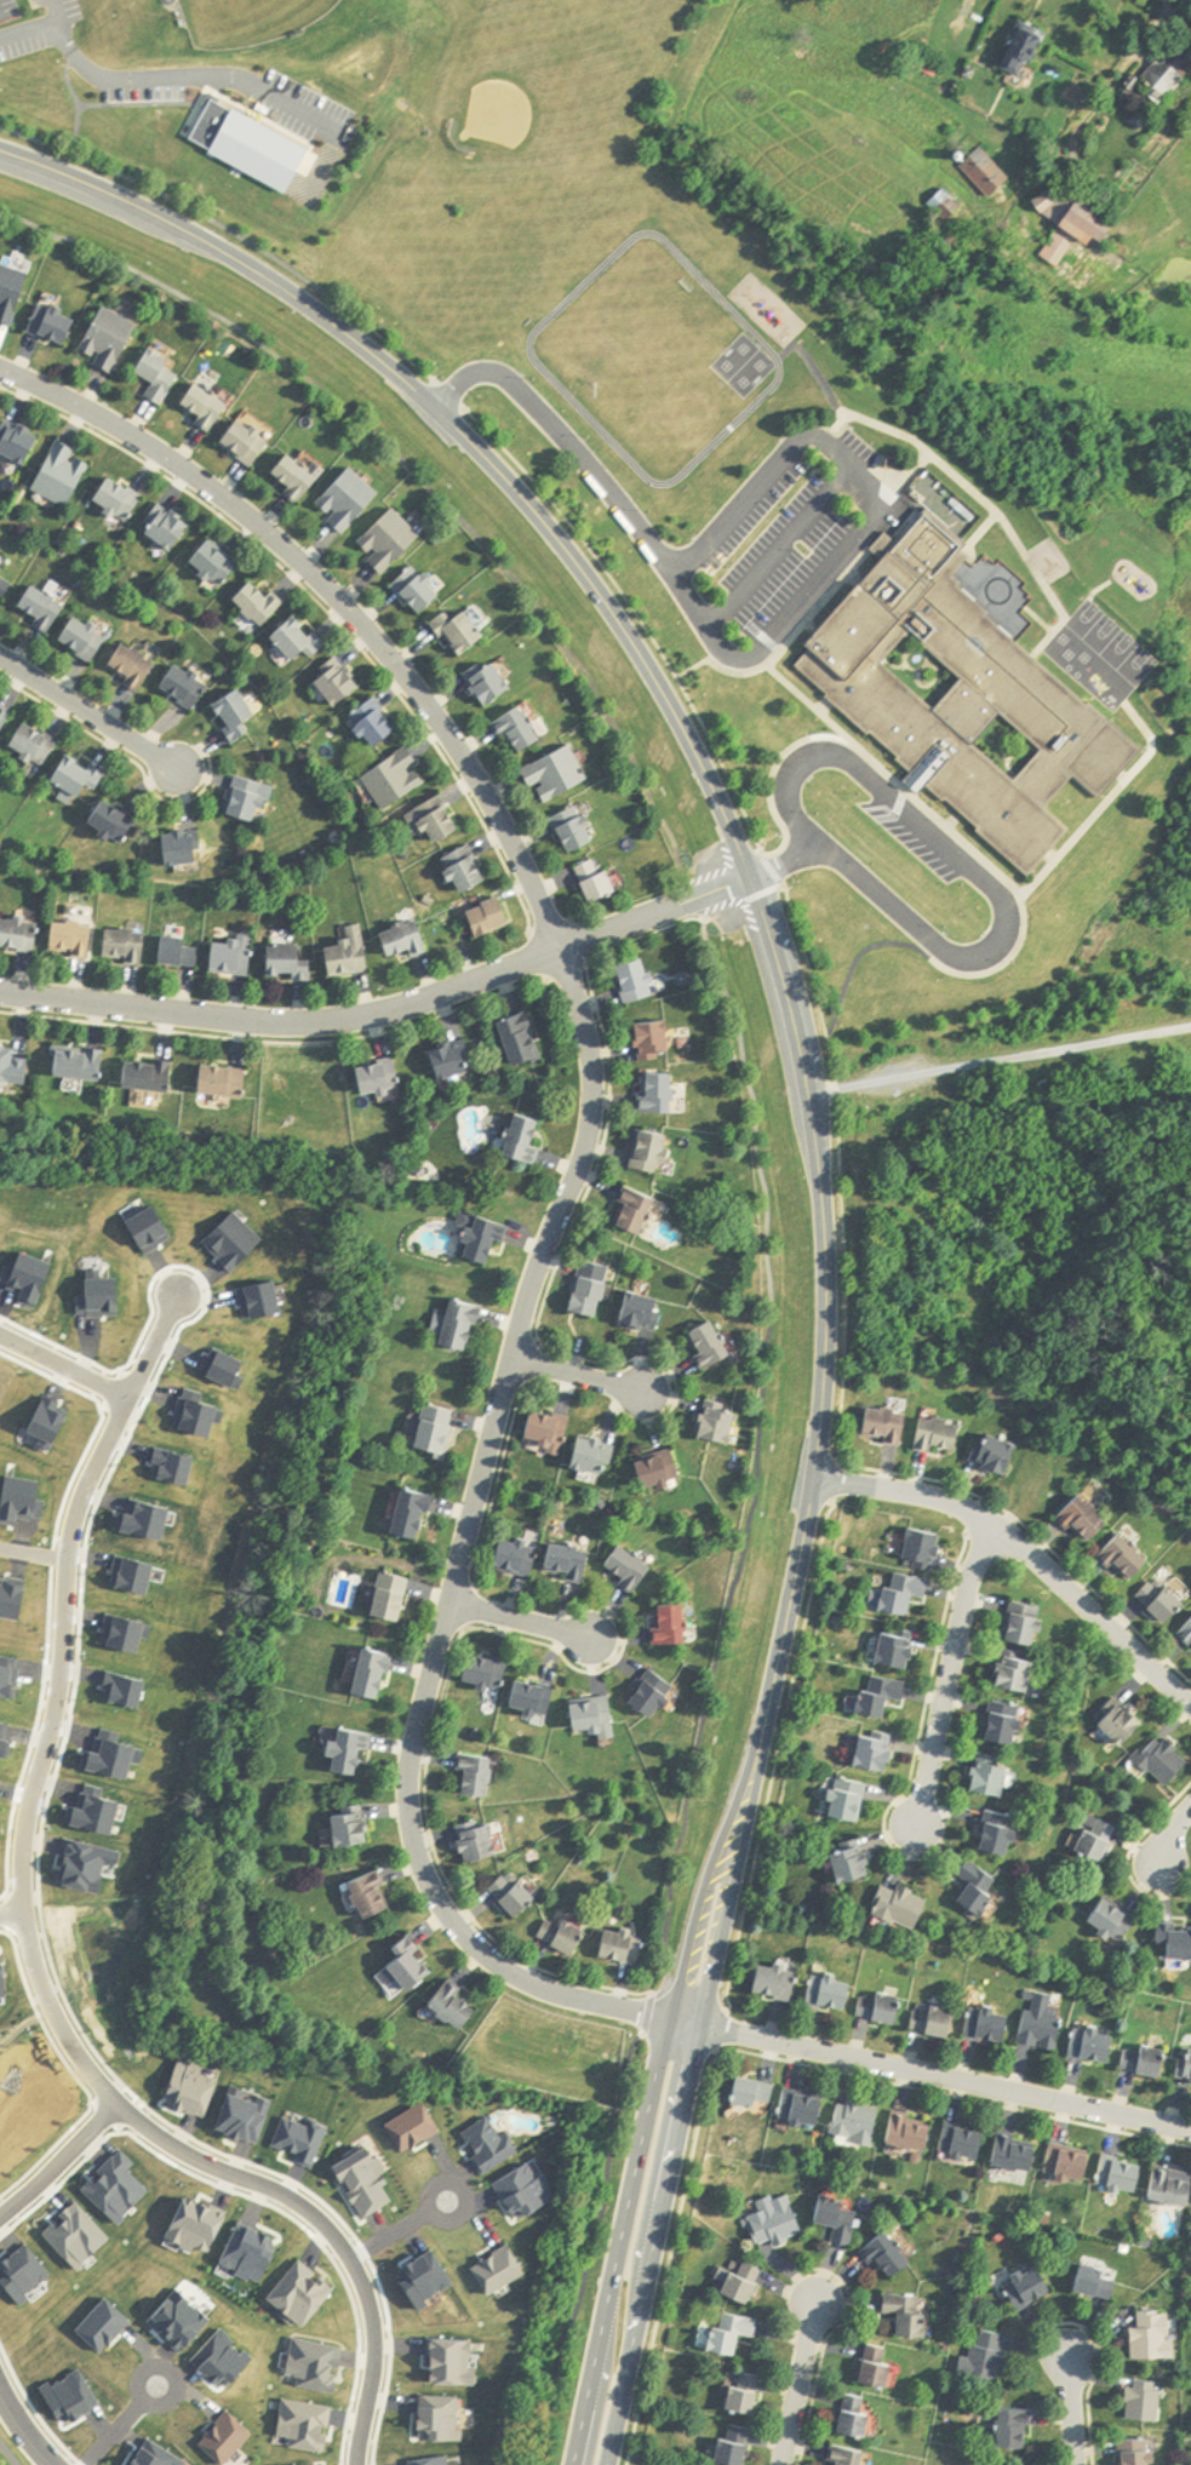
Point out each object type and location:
road: (1185, 4)
park: (648, 7)
park: (257, 19)
road: (44, 29)
building: (1018, 46)
building: (1025, 58)
building: (923, 61)
building: (1166, 70)
road: (184, 79)
building: (1129, 81)
road: (1110, 88)
park: (188, 92)
park: (502, 114)
building: (1136, 117)
crop: (823, 128)
building: (954, 155)
silo: (954, 155)
building: (981, 171)
crop: (1161, 216)
building: (1065, 220)
park: (411, 266)
building: (13, 293)
building: (58, 322)
building: (109, 346)
track: (655, 359)
road: (818, 369)
building: (162, 374)
park: (639, 383)
building: (211, 407)
building: (21, 441)
building: (250, 441)
road: (779, 468)
road: (921, 468)
building: (65, 474)
road: (418, 474)
road: (894, 475)
building: (302, 477)
road: (981, 491)
building: (122, 498)
building: (347, 505)
building: (172, 526)
road: (987, 533)
building: (389, 546)
road: (783, 549)
parking lot: (780, 551)
building: (221, 562)
road: (858, 579)
building: (424, 589)
road: (1089, 592)
building: (264, 603)
road: (325, 606)
building: (46, 608)
road: (641, 615)
road: (1050, 621)
road: (815, 627)
building: (462, 635)
building: (87, 638)
building: (304, 638)
road: (773, 642)
road: (788, 644)
building: (137, 666)
building: (345, 682)
building: (494, 682)
building: (189, 687)
building: (969, 696)
road: (828, 709)
road: (86, 712)
building: (241, 716)
building: (5, 722)
building: (379, 723)
building: (525, 728)
building: (38, 744)
road: (131, 758)
road: (777, 772)
building: (561, 774)
building: (82, 775)
building: (400, 779)
building: (253, 799)
road: (901, 799)
building: (441, 819)
building: (118, 821)
building: (579, 831)
parking lot: (915, 841)
building: (187, 848)
road: (994, 865)
building: (471, 870)
road: (777, 871)
building: (601, 882)
road: (995, 892)
road: (700, 902)
building: (494, 918)
building: (19, 934)
road: (648, 936)
building: (74, 940)
building: (408, 941)
building: (127, 946)
building: (183, 952)
building: (353, 955)
building: (235, 958)
building: (292, 962)
road: (591, 965)
road: (1004, 968)
building: (641, 981)
road: (384, 1009)
road: (831, 1037)
building: (526, 1041)
building: (659, 1042)
road: (280, 1044)
building: (454, 1062)
road: (997, 1062)
building: (85, 1064)
building: (15, 1066)
building: (156, 1076)
building: (382, 1080)
building: (230, 1083)
building: (663, 1094)
building: (528, 1139)
road: (809, 1140)
building: (657, 1152)
road: (574, 1169)
building: (641, 1211)
building: (489, 1239)
building: (594, 1297)
building: (647, 1312)
building: (465, 1326)
road: (153, 1346)
building: (714, 1346)
road: (63, 1368)
road: (573, 1375)
road: (110, 1386)
road: (99, 1421)
building: (721, 1424)
building: (891, 1427)
building: (441, 1429)
building: (554, 1432)
building: (941, 1435)
building: (998, 1455)
building: (596, 1456)
building: (664, 1472)
building: (418, 1515)
building: (1086, 1520)
building: (927, 1549)
road: (33, 1552)
road: (1019, 1552)
road: (51, 1555)
building: (519, 1558)
building: (1128, 1558)
building: (573, 1563)
building: (631, 1567)
road: (65, 1590)
building: (907, 1593)
building: (396, 1598)
building: (1167, 1600)
road: (516, 1620)
building: (1027, 1624)
building: (675, 1626)
building: (1189, 1633)
building: (900, 1651)
road: (78, 1669)
building: (489, 1672)
building: (1021, 1672)
building: (379, 1675)
road: (941, 1675)
building: (886, 1696)
building: (657, 1698)
building: (537, 1699)
building: (600, 1719)
building: (1009, 1724)
building: (1129, 1724)
road: (32, 1732)
building: (355, 1753)
building: (878, 1754)
building: (1168, 1760)
building: (482, 1777)
building: (995, 1778)
building: (851, 1806)
building: (356, 1829)
building: (1004, 1835)
road: (1173, 1836)
building: (1099, 1840)
building: (482, 1844)
building: (857, 1863)
building: (981, 1891)
building: (517, 1896)
building: (377, 1898)
building: (905, 1908)
road: (4, 1913)
road: (11, 1914)
building: (1117, 1920)
building: (566, 1937)
building: (1178, 1941)
building: (625, 1948)
building: (411, 1971)
building: (779, 1983)
building: (834, 1994)
building: (883, 2008)
building: (938, 2020)
building: (1044, 2023)
building: (991, 2025)
building: (1096, 2047)
building: (1150, 2062)
building: (1185, 2066)
road: (74, 2073)
road: (940, 2075)
building: (756, 2094)
building: (807, 2110)
road: (103, 2117)
building: (859, 2122)
building: (914, 2134)
building: (966, 2143)
road: (178, 2151)
building: (1019, 2155)
road: (59, 2161)
building: (1071, 2166)
building: (1123, 2177)
building: (1172, 2188)
road: (256, 2199)
building: (838, 2218)
building: (777, 2223)
road: (396, 2230)
road: (363, 2248)
building: (891, 2254)
building: (1100, 2281)
building: (744, 2285)
building: (1031, 2286)
building: (911, 2315)
building: (737, 2331)
building: (1156, 2335)
building: (989, 2356)
road: (389, 2362)
building: (882, 2364)
road: (791, 2384)
building: (746, 2394)
building: (1147, 2400)
road: (30, 2402)
road: (1064, 2410)
building: (860, 2417)
road: (119, 2425)
building: (1020, 2427)
road: (21, 2429)
building: (735, 2450)
building: (1141, 2452)
building: (851, 2455)
road: (78, 2461)

